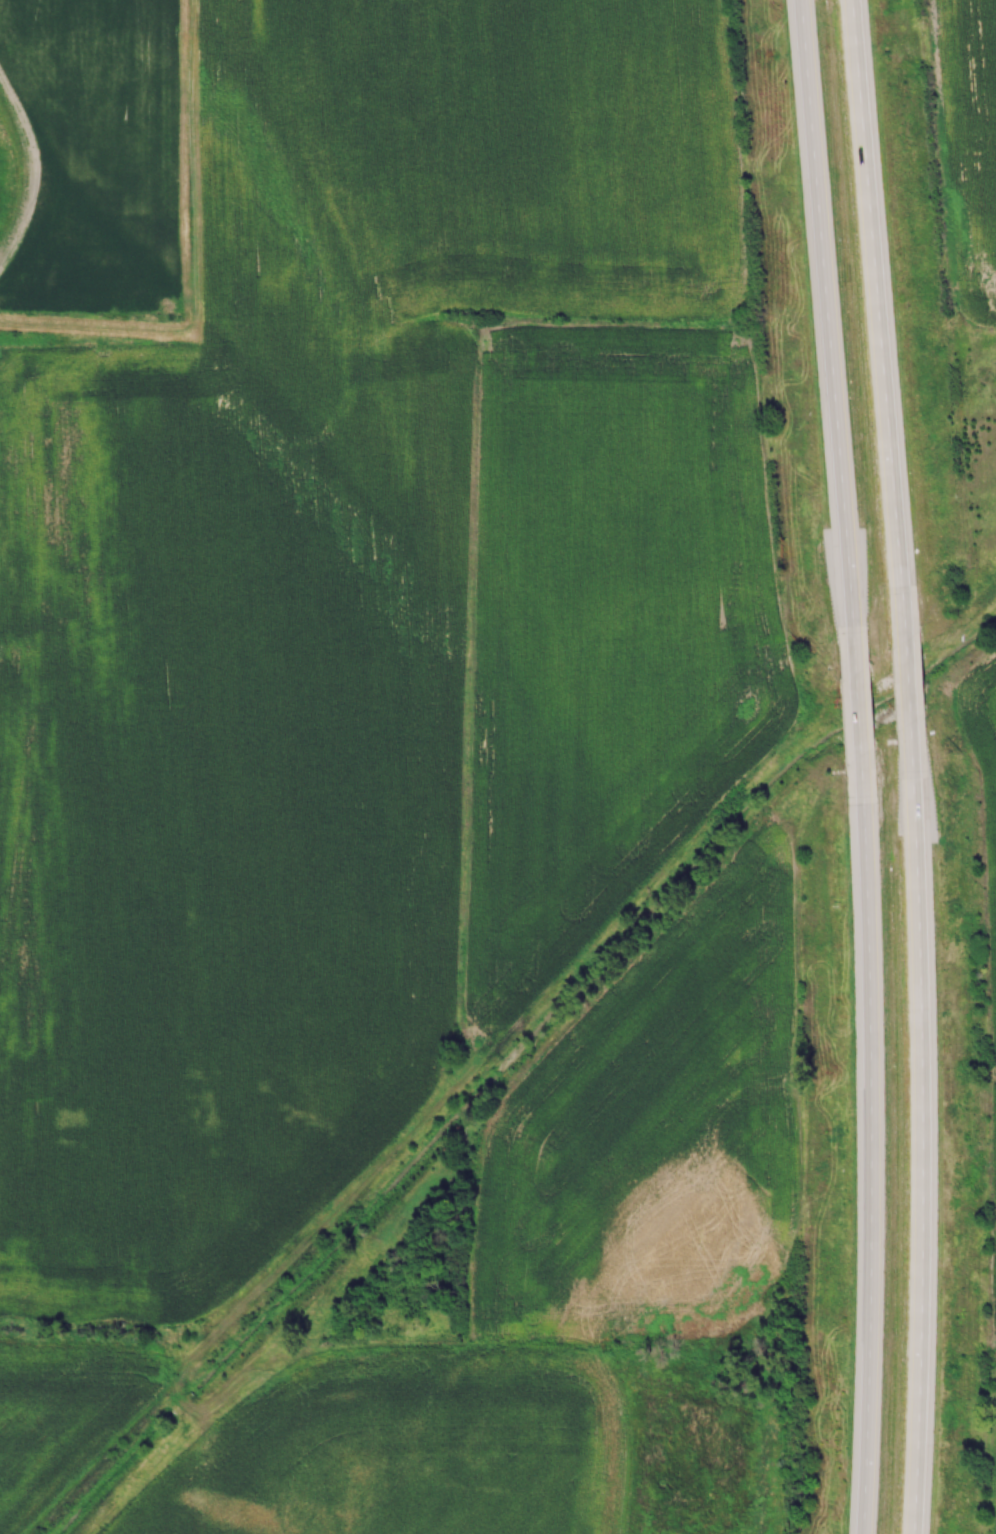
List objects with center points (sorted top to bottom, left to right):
road: (882, 323)
road: (829, 343)
road: (911, 681)
road: (860, 717)
road: (925, 1124)
road: (874, 1141)

